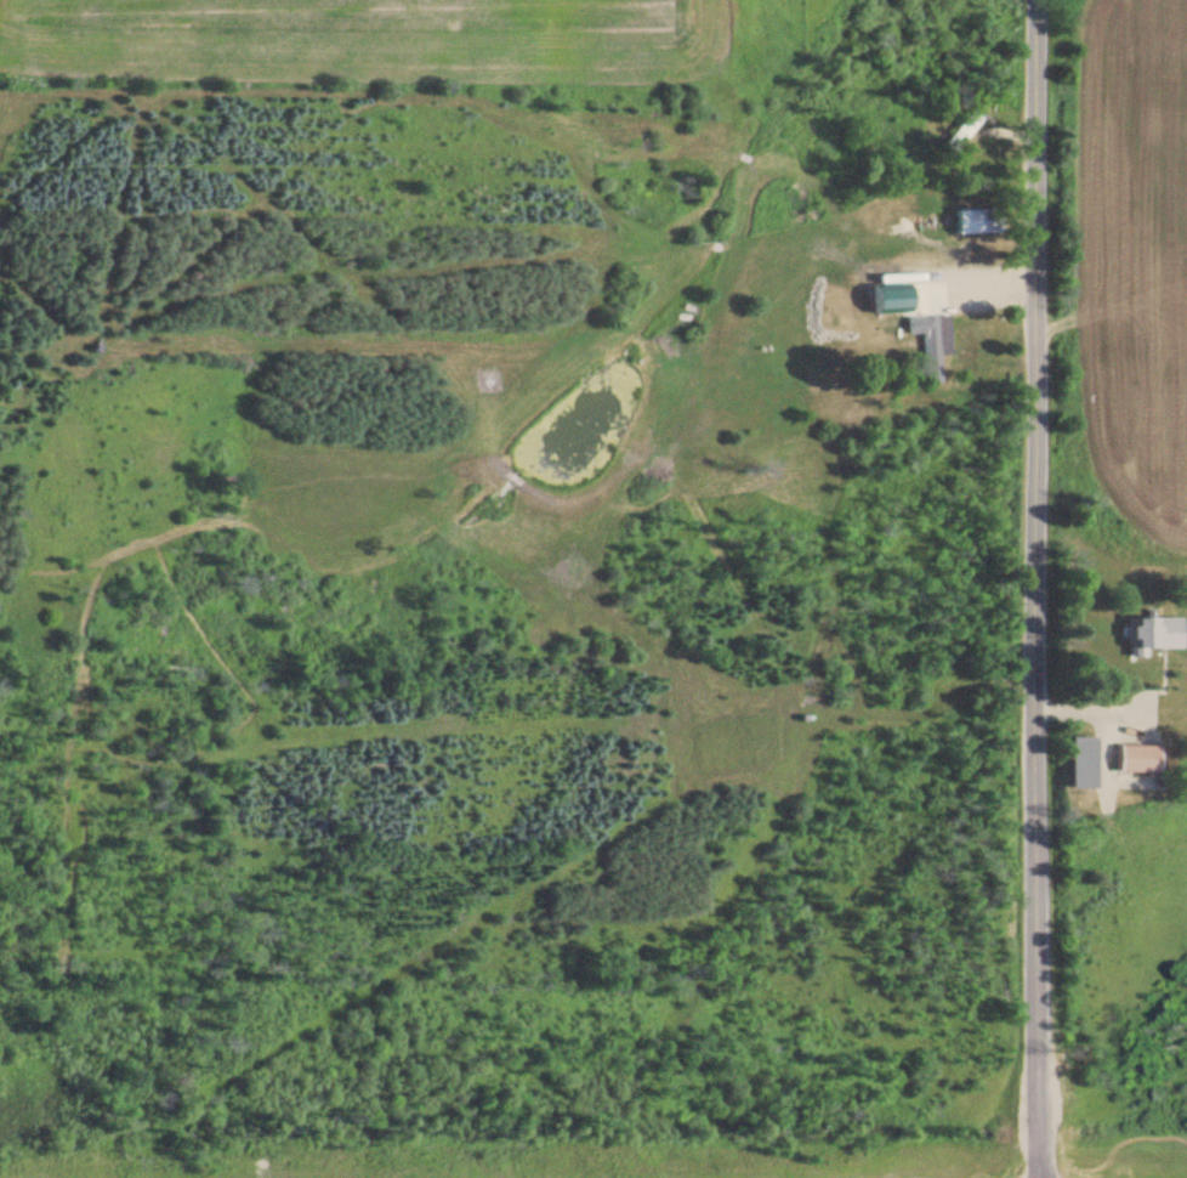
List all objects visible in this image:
crop: (360, 34)
building: (962, 129)
building: (978, 221)
crop: (1130, 271)
building: (933, 344)
road: (1037, 589)
building: (1152, 634)
building: (1136, 759)
building: (1081, 763)

